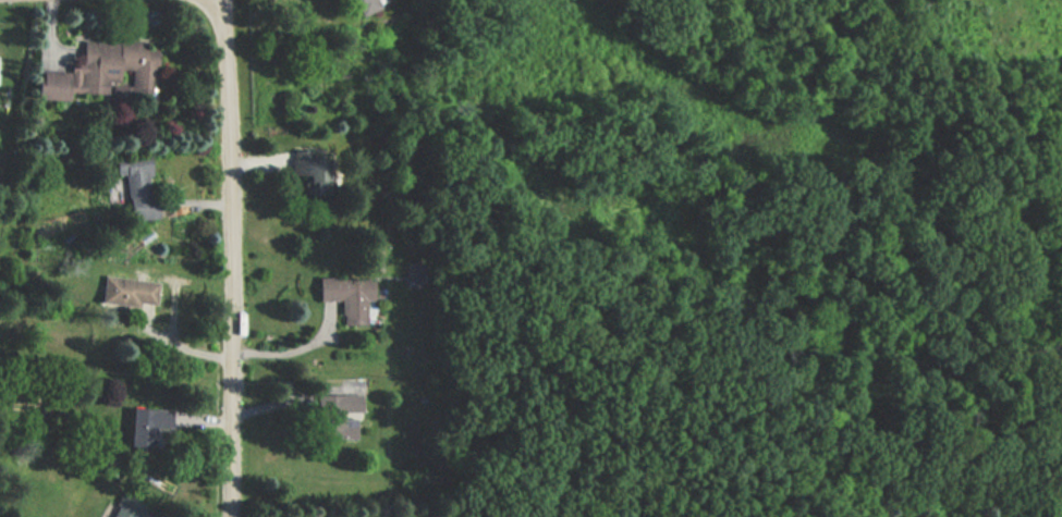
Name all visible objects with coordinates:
building: (338, 1)
building: (363, 5)
building: (118, 67)
building: (48, 87)
road: (258, 164)
building: (309, 173)
building: (136, 188)
road: (229, 258)
building: (411, 276)
building: (124, 293)
building: (346, 297)
road: (295, 349)
road: (295, 397)
building: (335, 416)
building: (146, 426)
building: (439, 464)
building: (124, 507)

